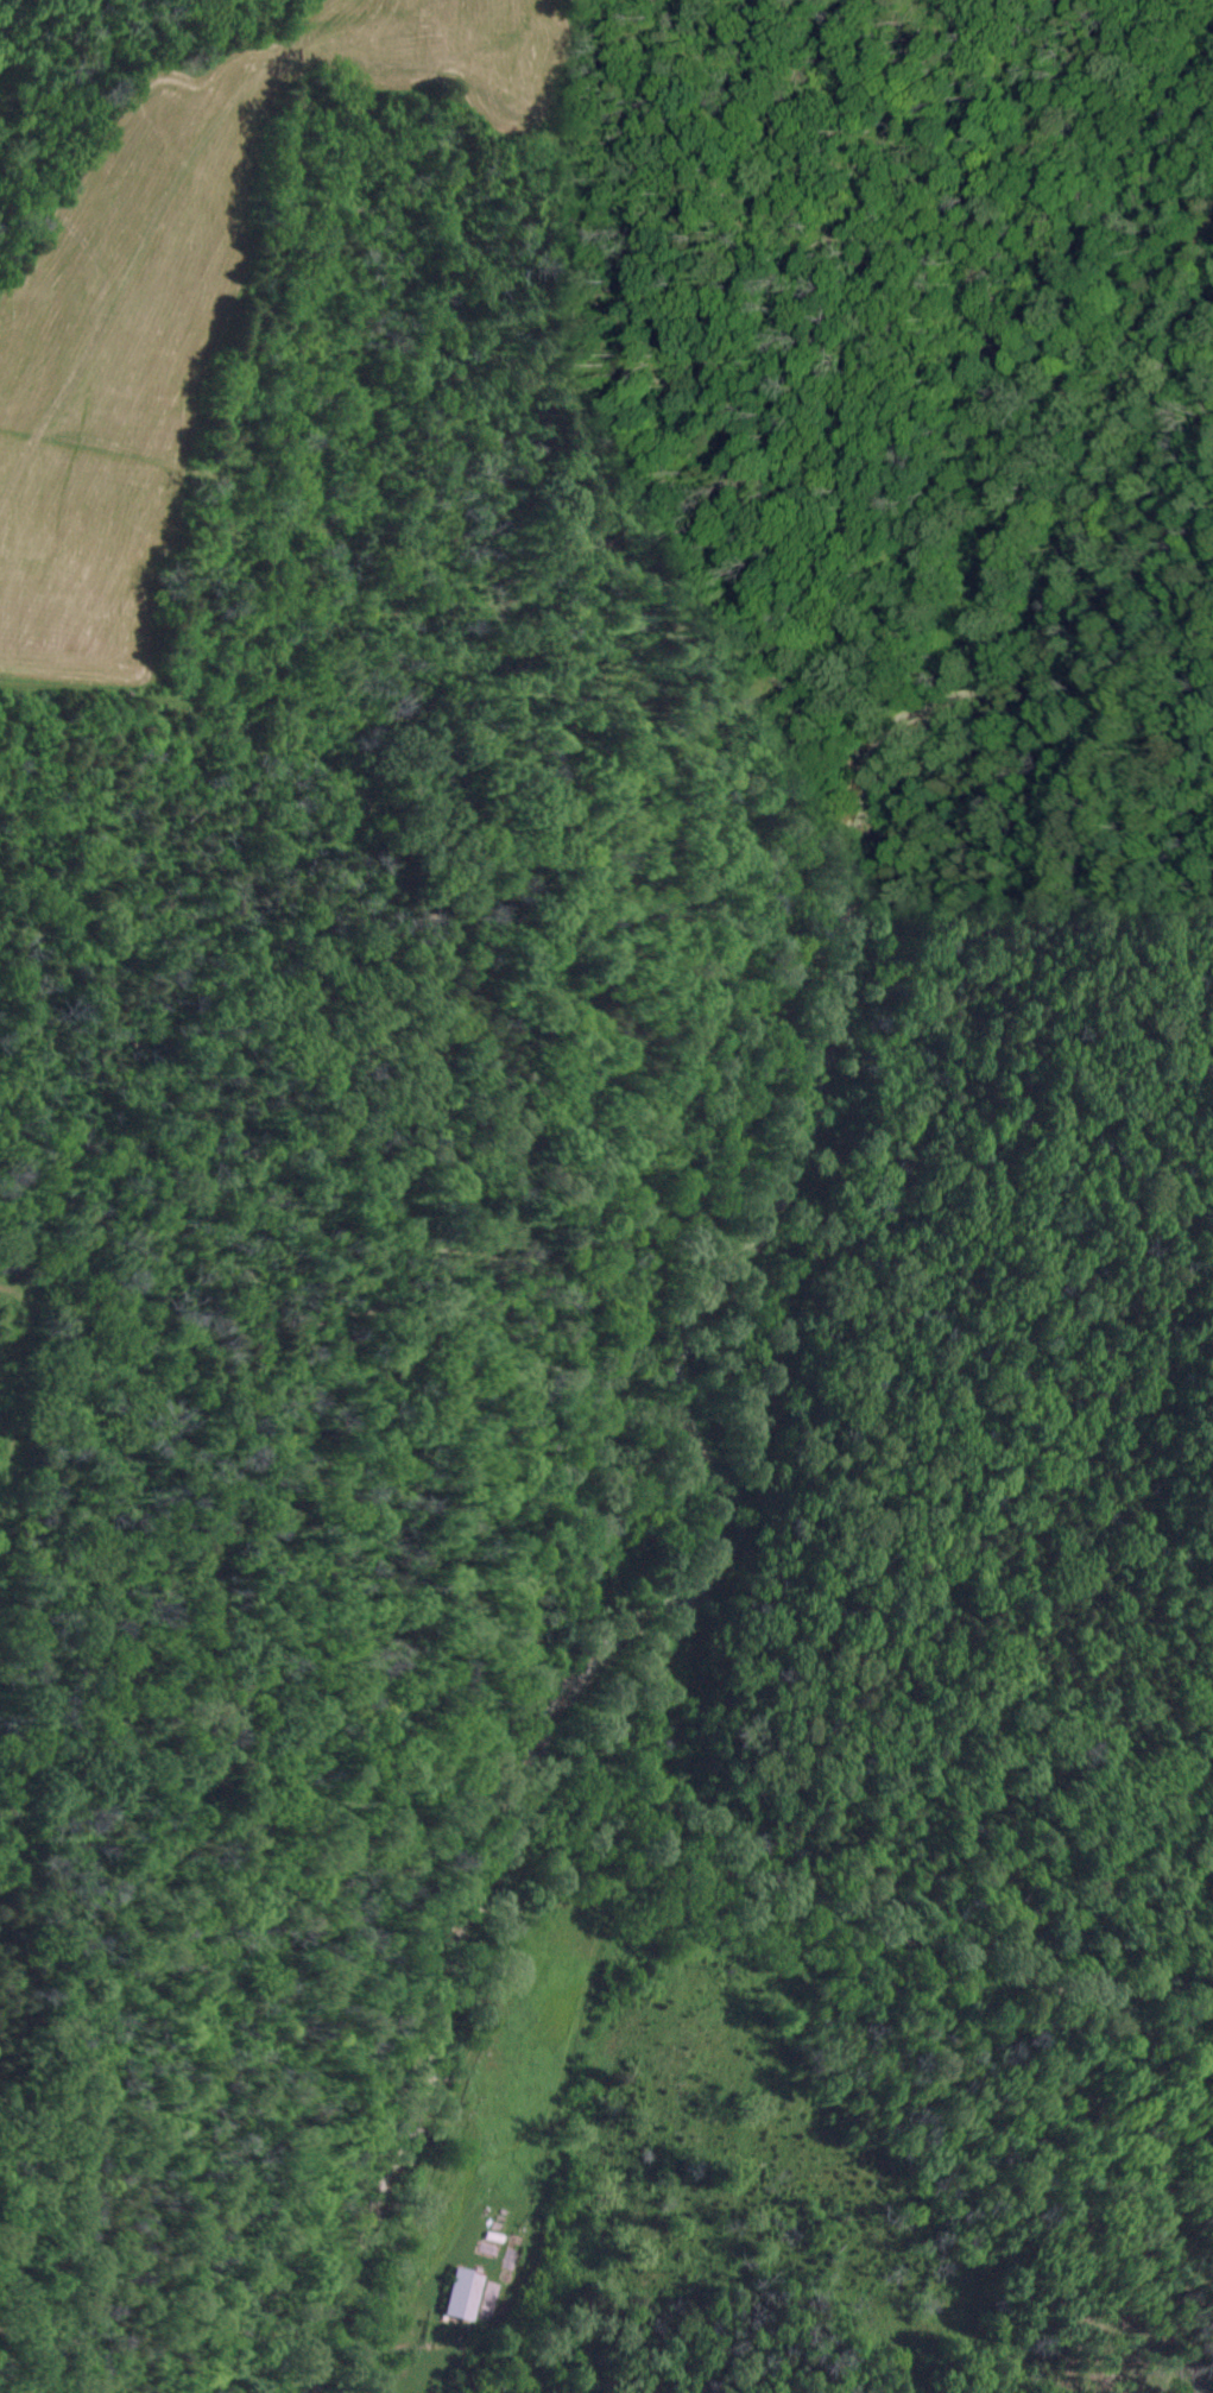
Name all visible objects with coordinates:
building: (459, 2298)
road: (400, 2370)

